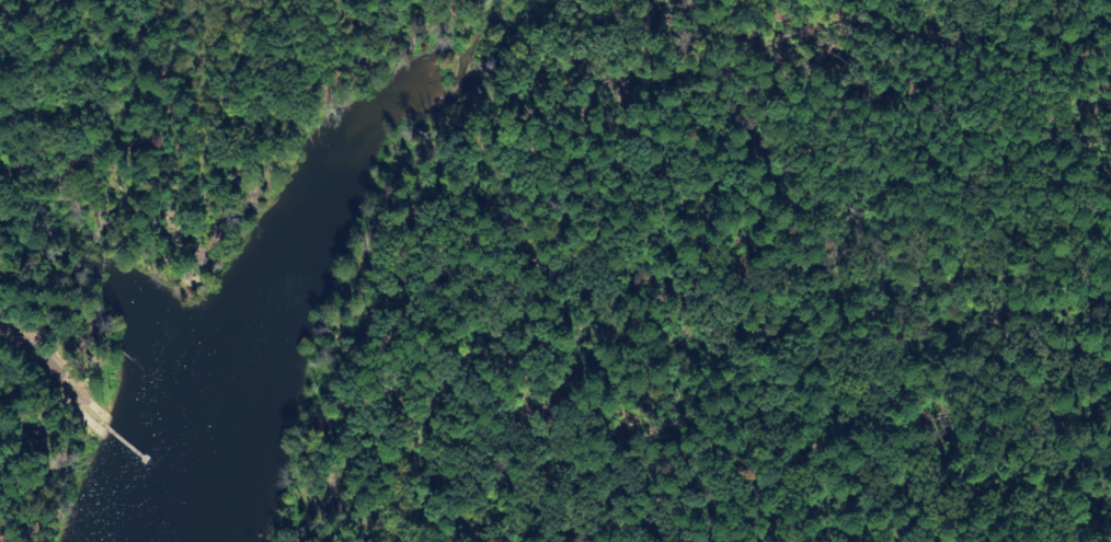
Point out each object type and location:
road: (51, 372)
pier: (123, 441)

